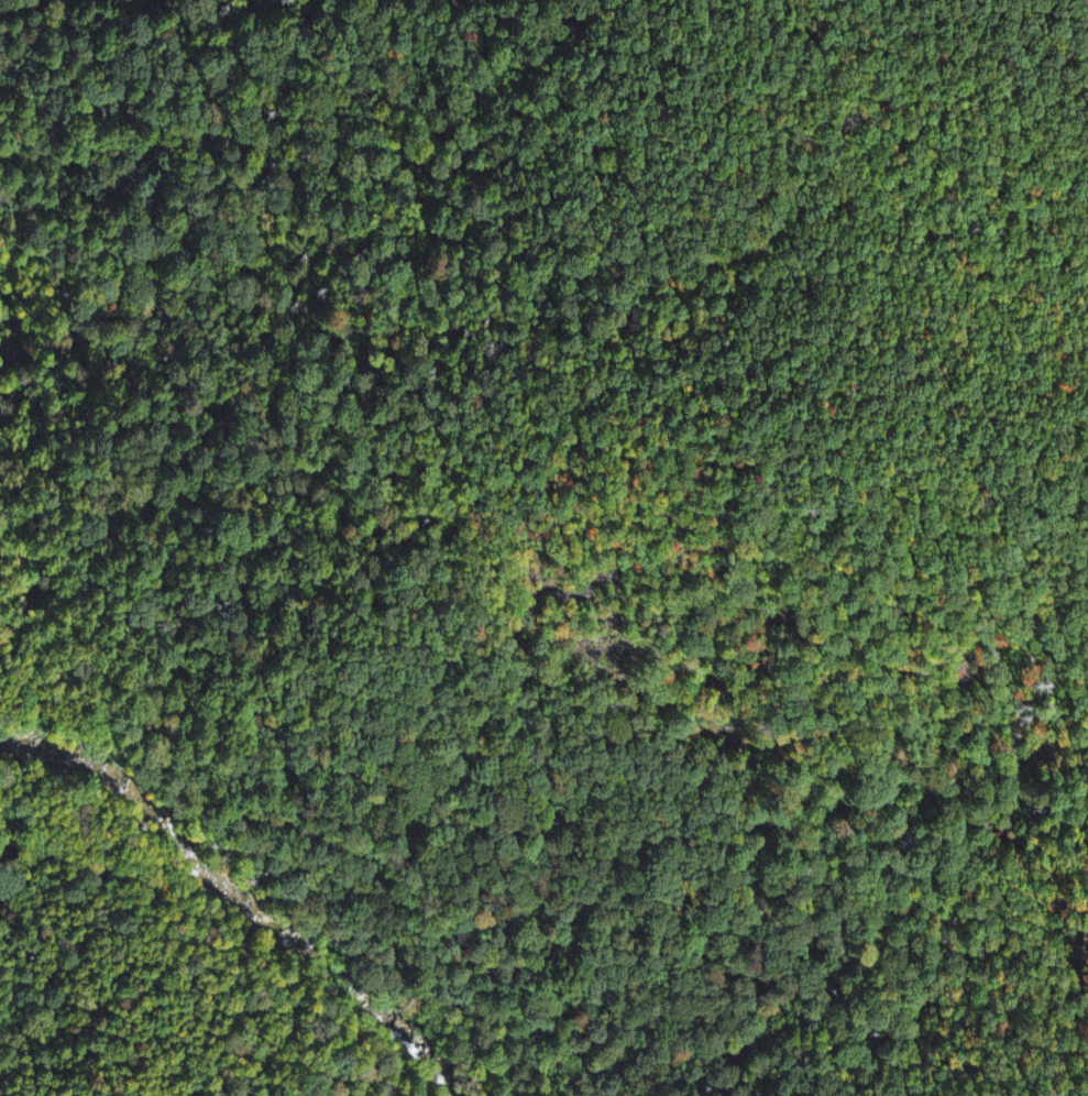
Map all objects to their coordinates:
river: (8, 321)
road: (116, 743)
river: (257, 887)

